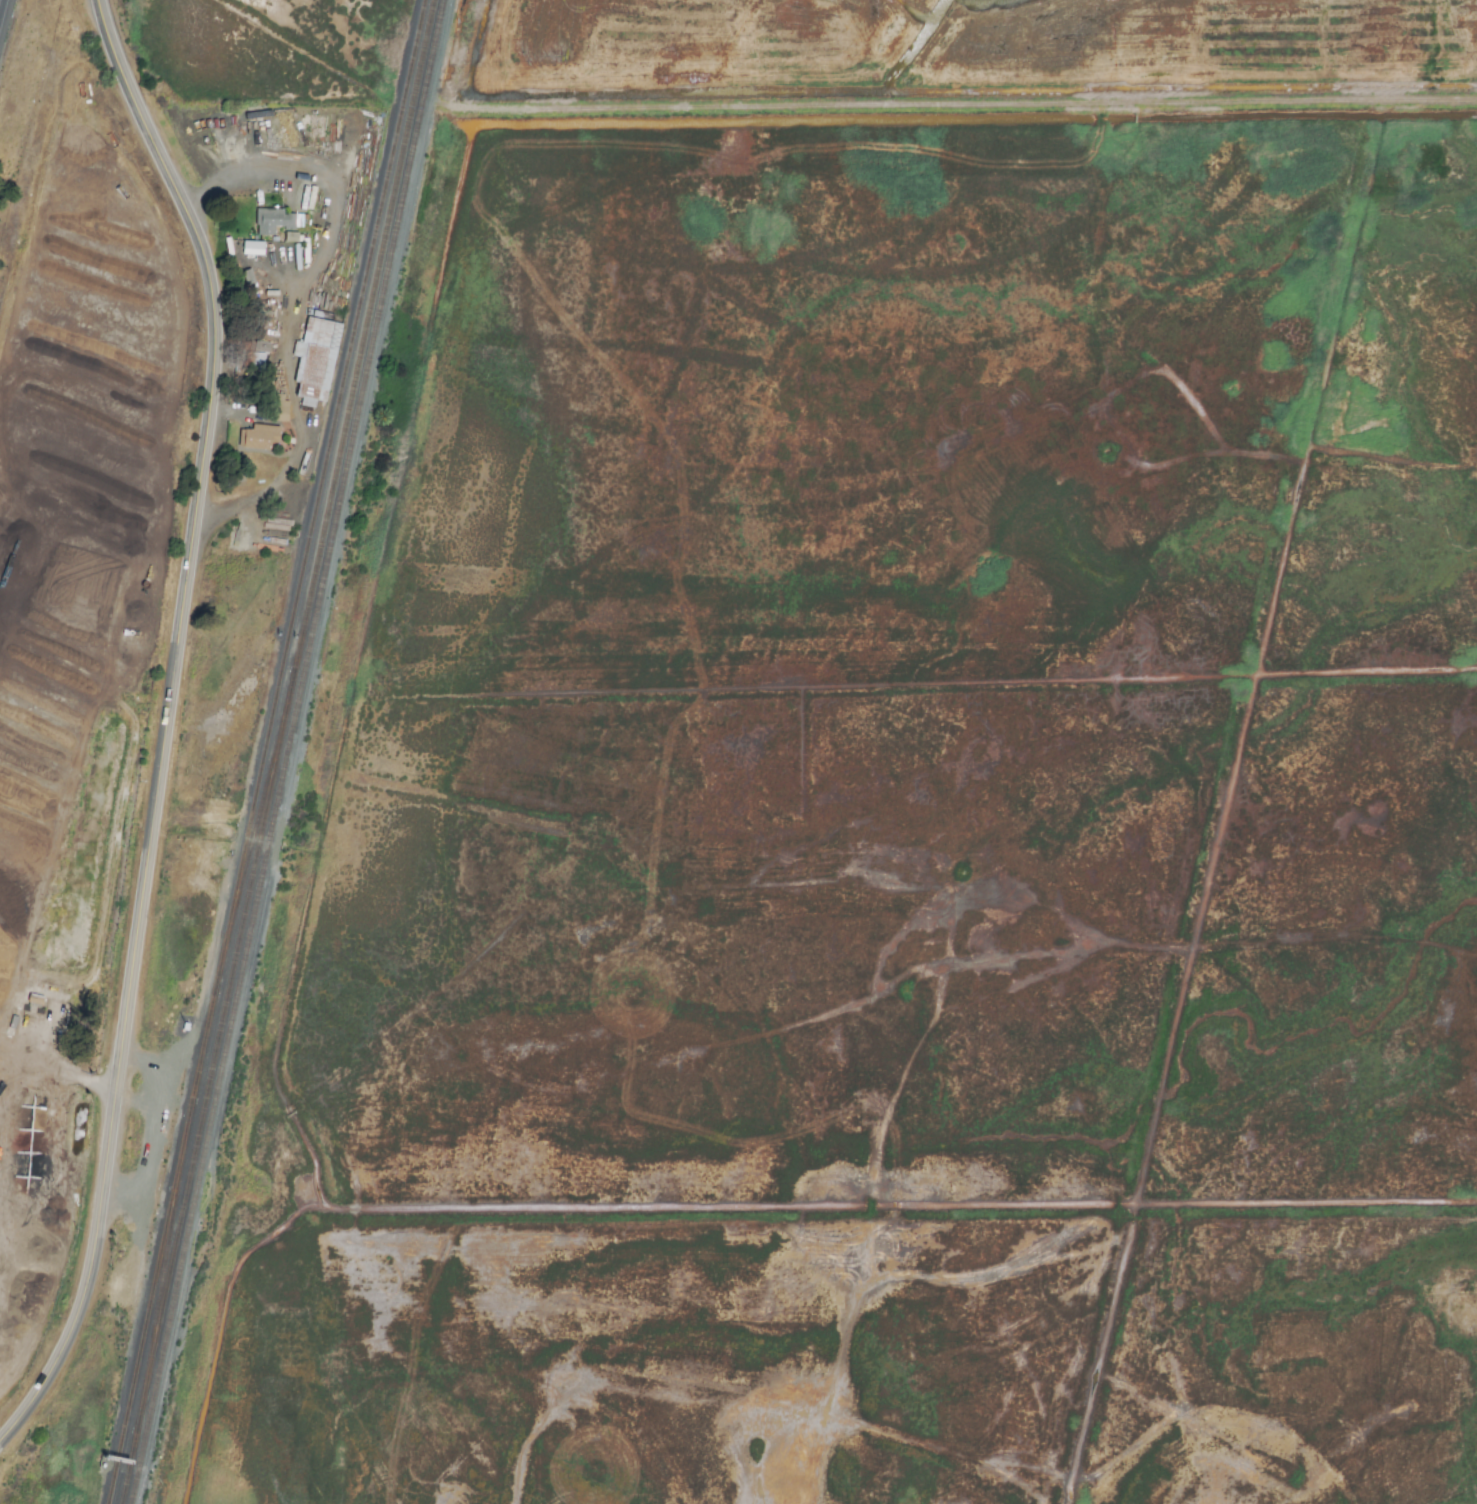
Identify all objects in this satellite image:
road: (1306, 100)
road: (1135, 118)
road: (1135, 126)
road: (329, 193)
building: (273, 221)
building: (291, 237)
railway: (366, 335)
building: (315, 360)
road: (240, 415)
building: (260, 437)
road: (292, 468)
railway: (326, 482)
road: (167, 722)
railway: (290, 752)
railway: (262, 817)
railway: (212, 1030)
railway: (219, 1049)
road: (60, 1073)
railway: (169, 1262)
railway: (157, 1300)
railway: (133, 1465)

